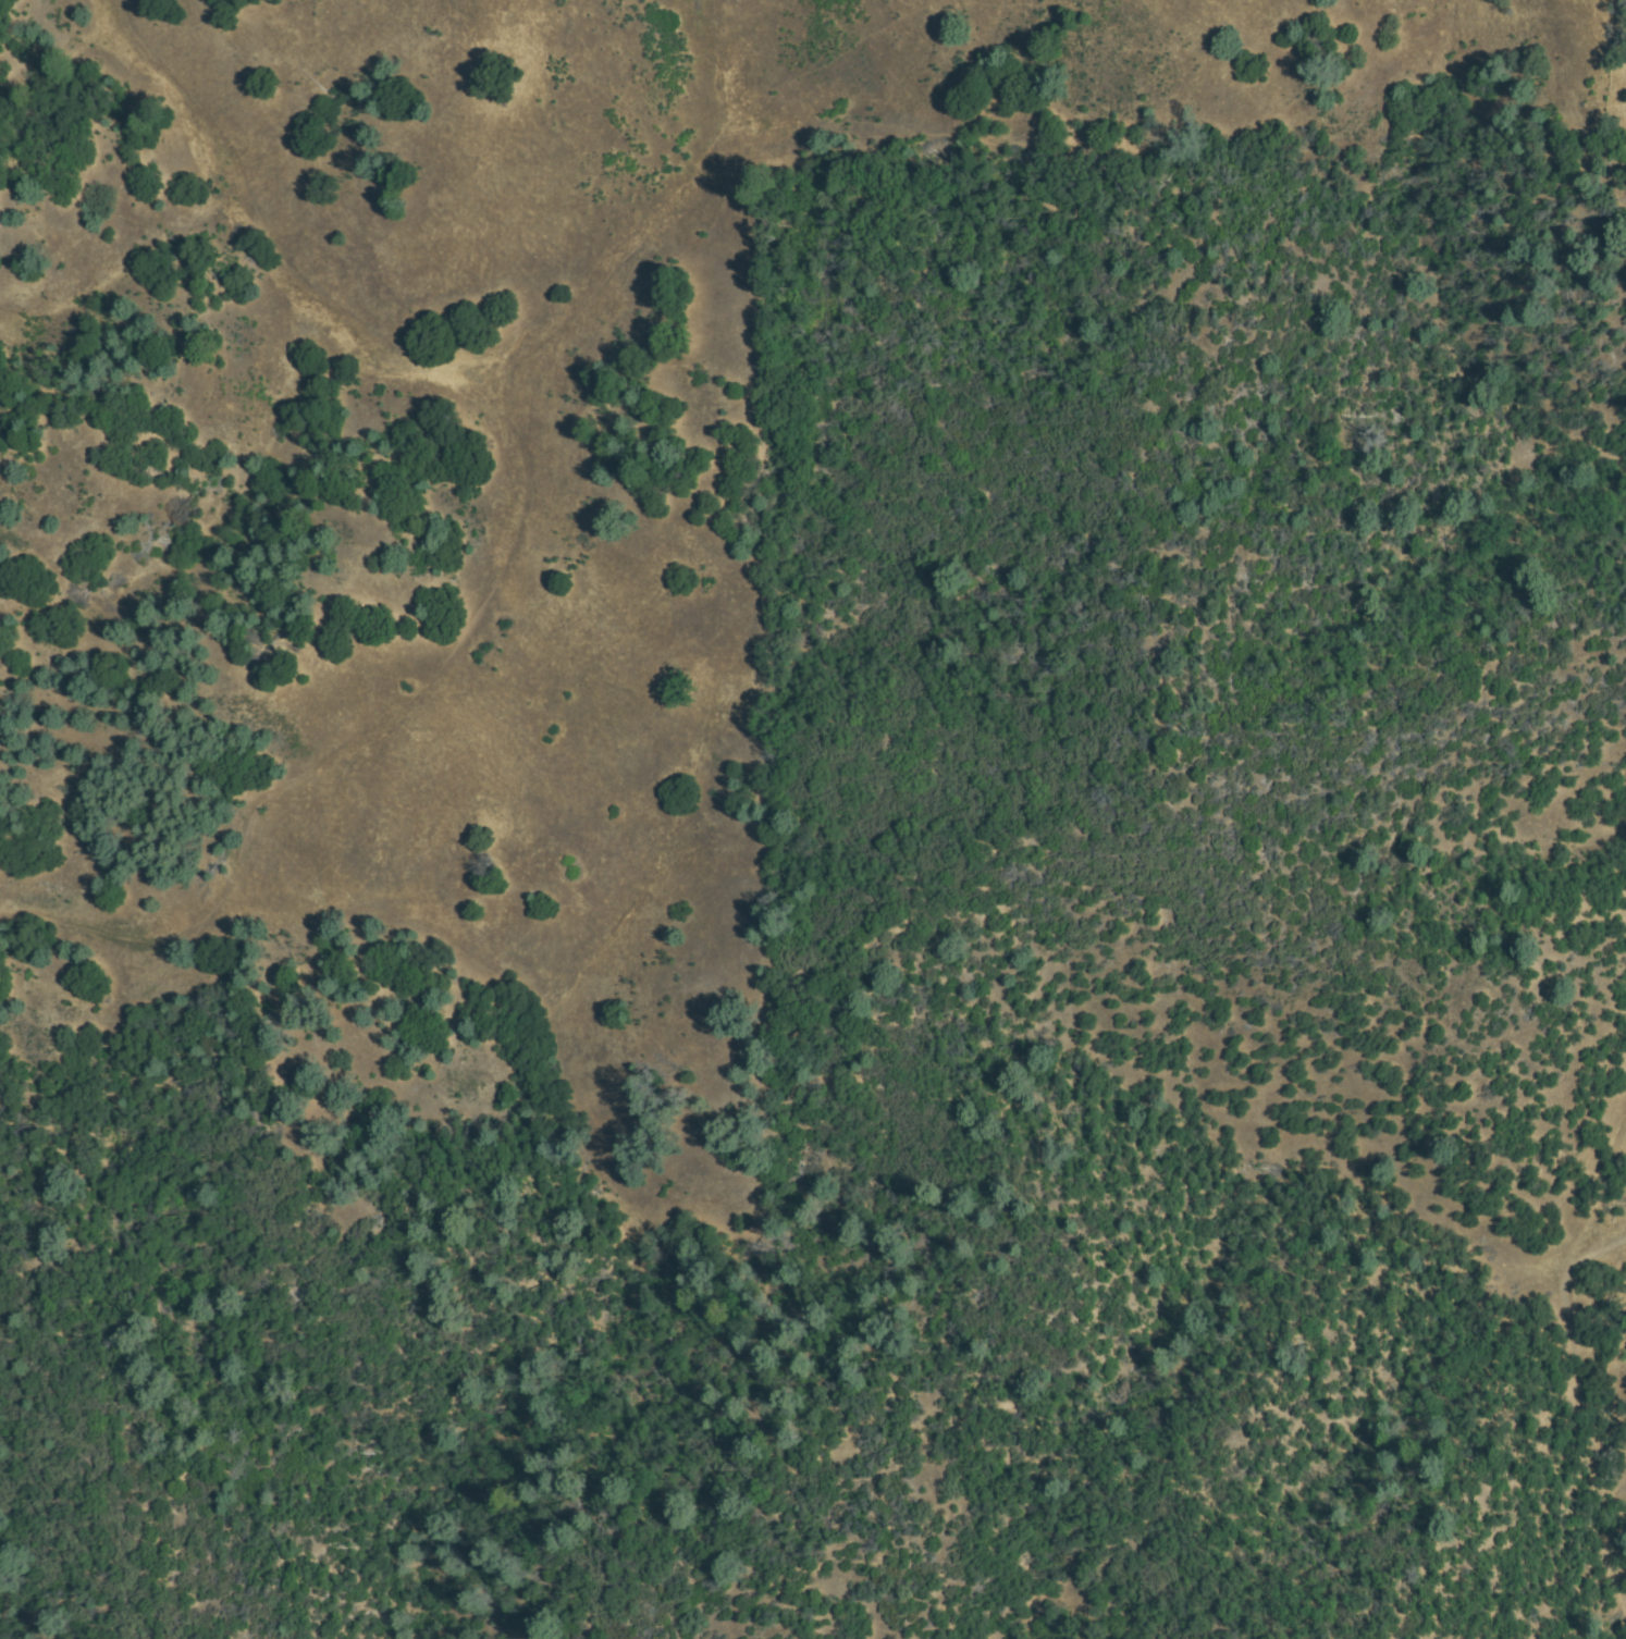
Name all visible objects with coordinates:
road: (1574, 1353)

